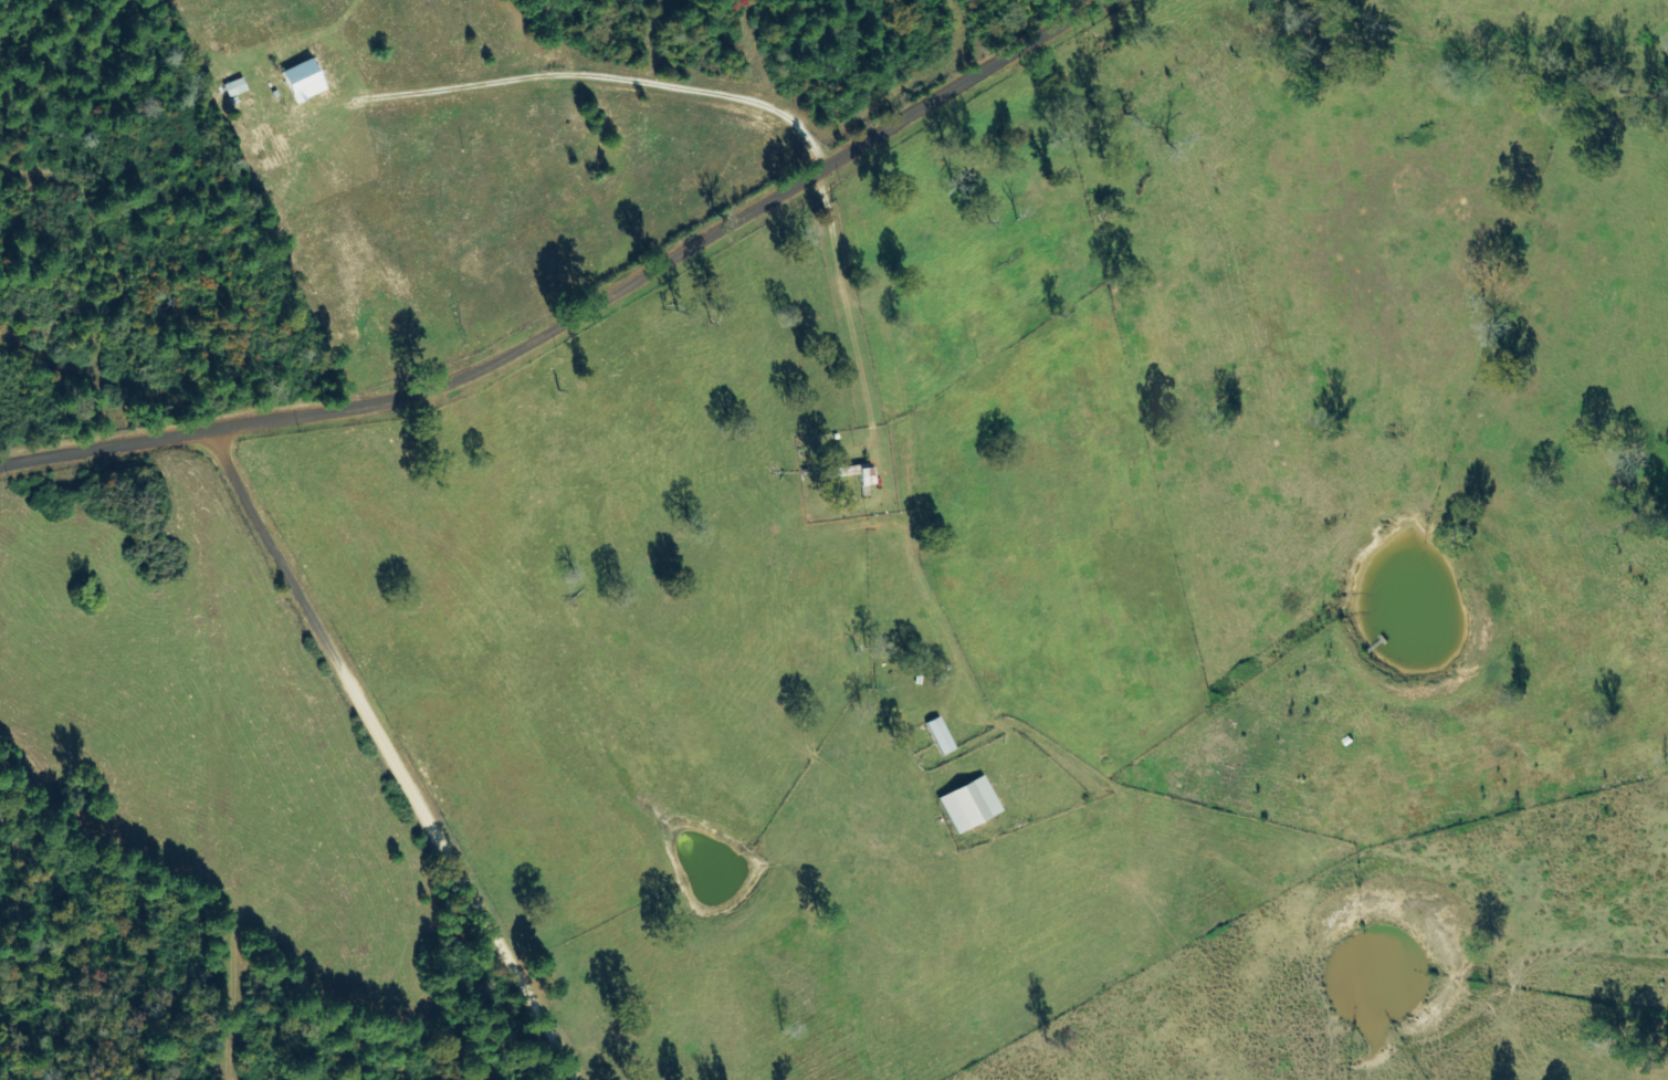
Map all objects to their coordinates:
building: (302, 81)
building: (233, 88)
road: (597, 332)
building: (853, 474)
road: (555, 601)
building: (938, 736)
road: (197, 776)
road: (411, 779)
building: (967, 805)

